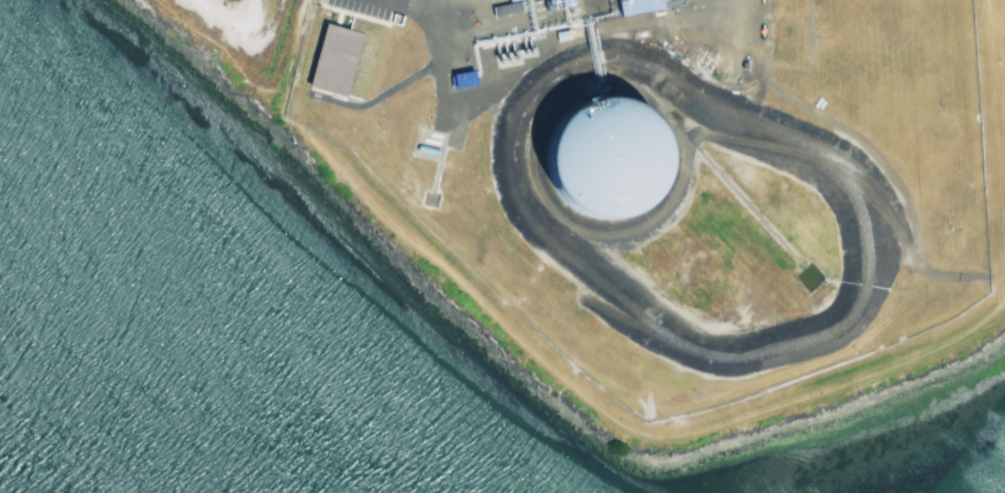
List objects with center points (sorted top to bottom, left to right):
building: (633, 5)
road: (677, 16)
road: (434, 43)
road: (284, 50)
building: (330, 59)
building: (459, 78)
building: (606, 158)
storage tank: (606, 158)
road: (538, 355)

